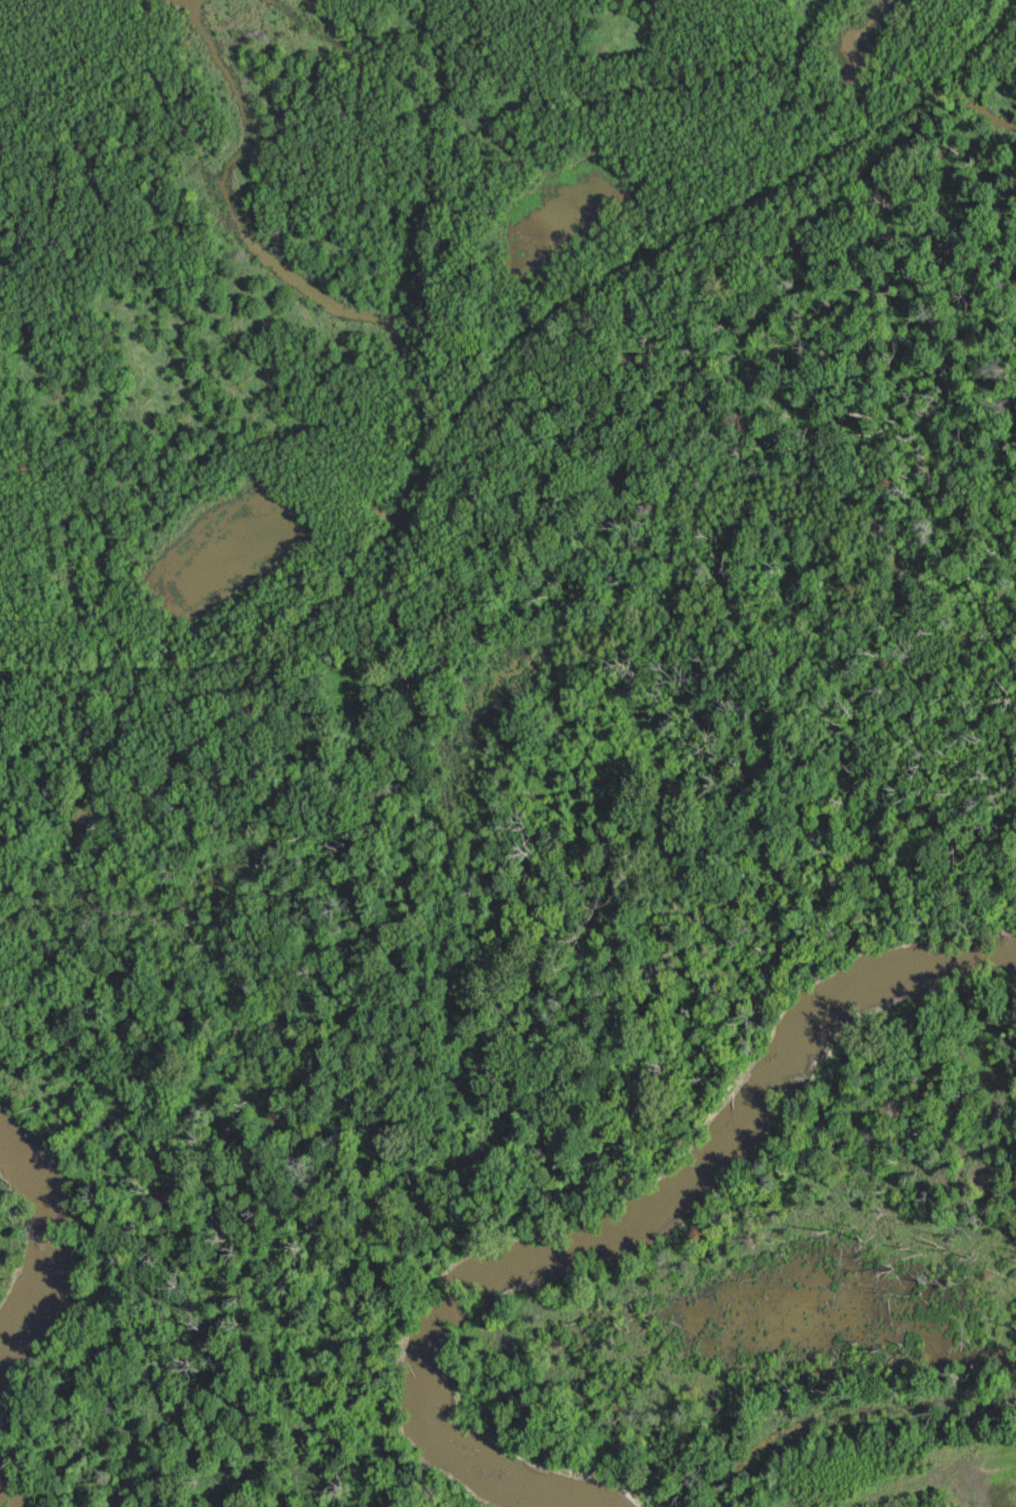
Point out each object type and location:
road: (482, 390)

